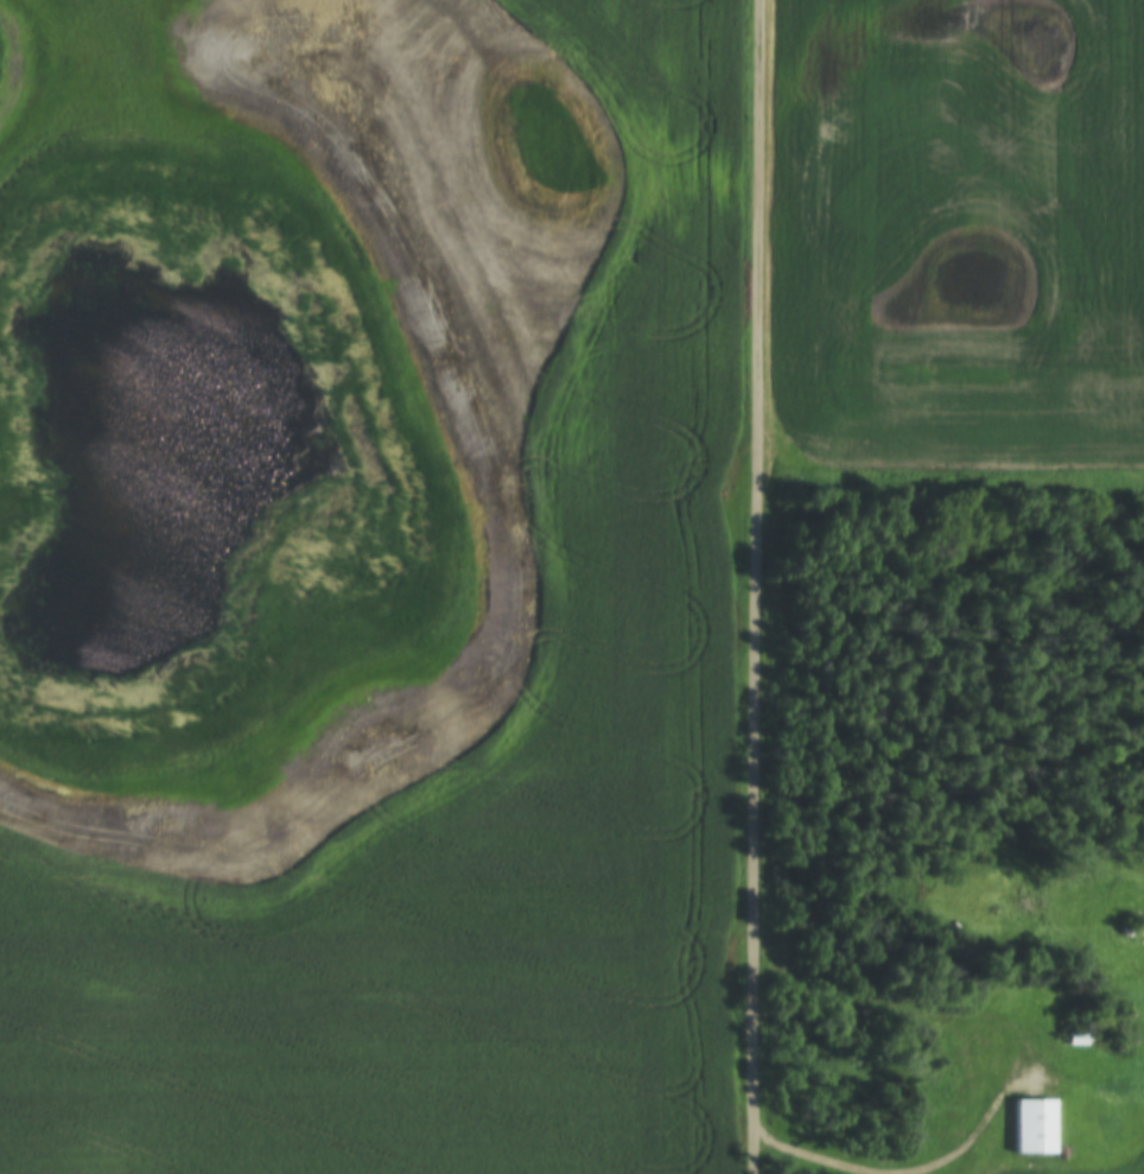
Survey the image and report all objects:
road: (755, 586)
road: (1015, 1065)
building: (1038, 1128)

